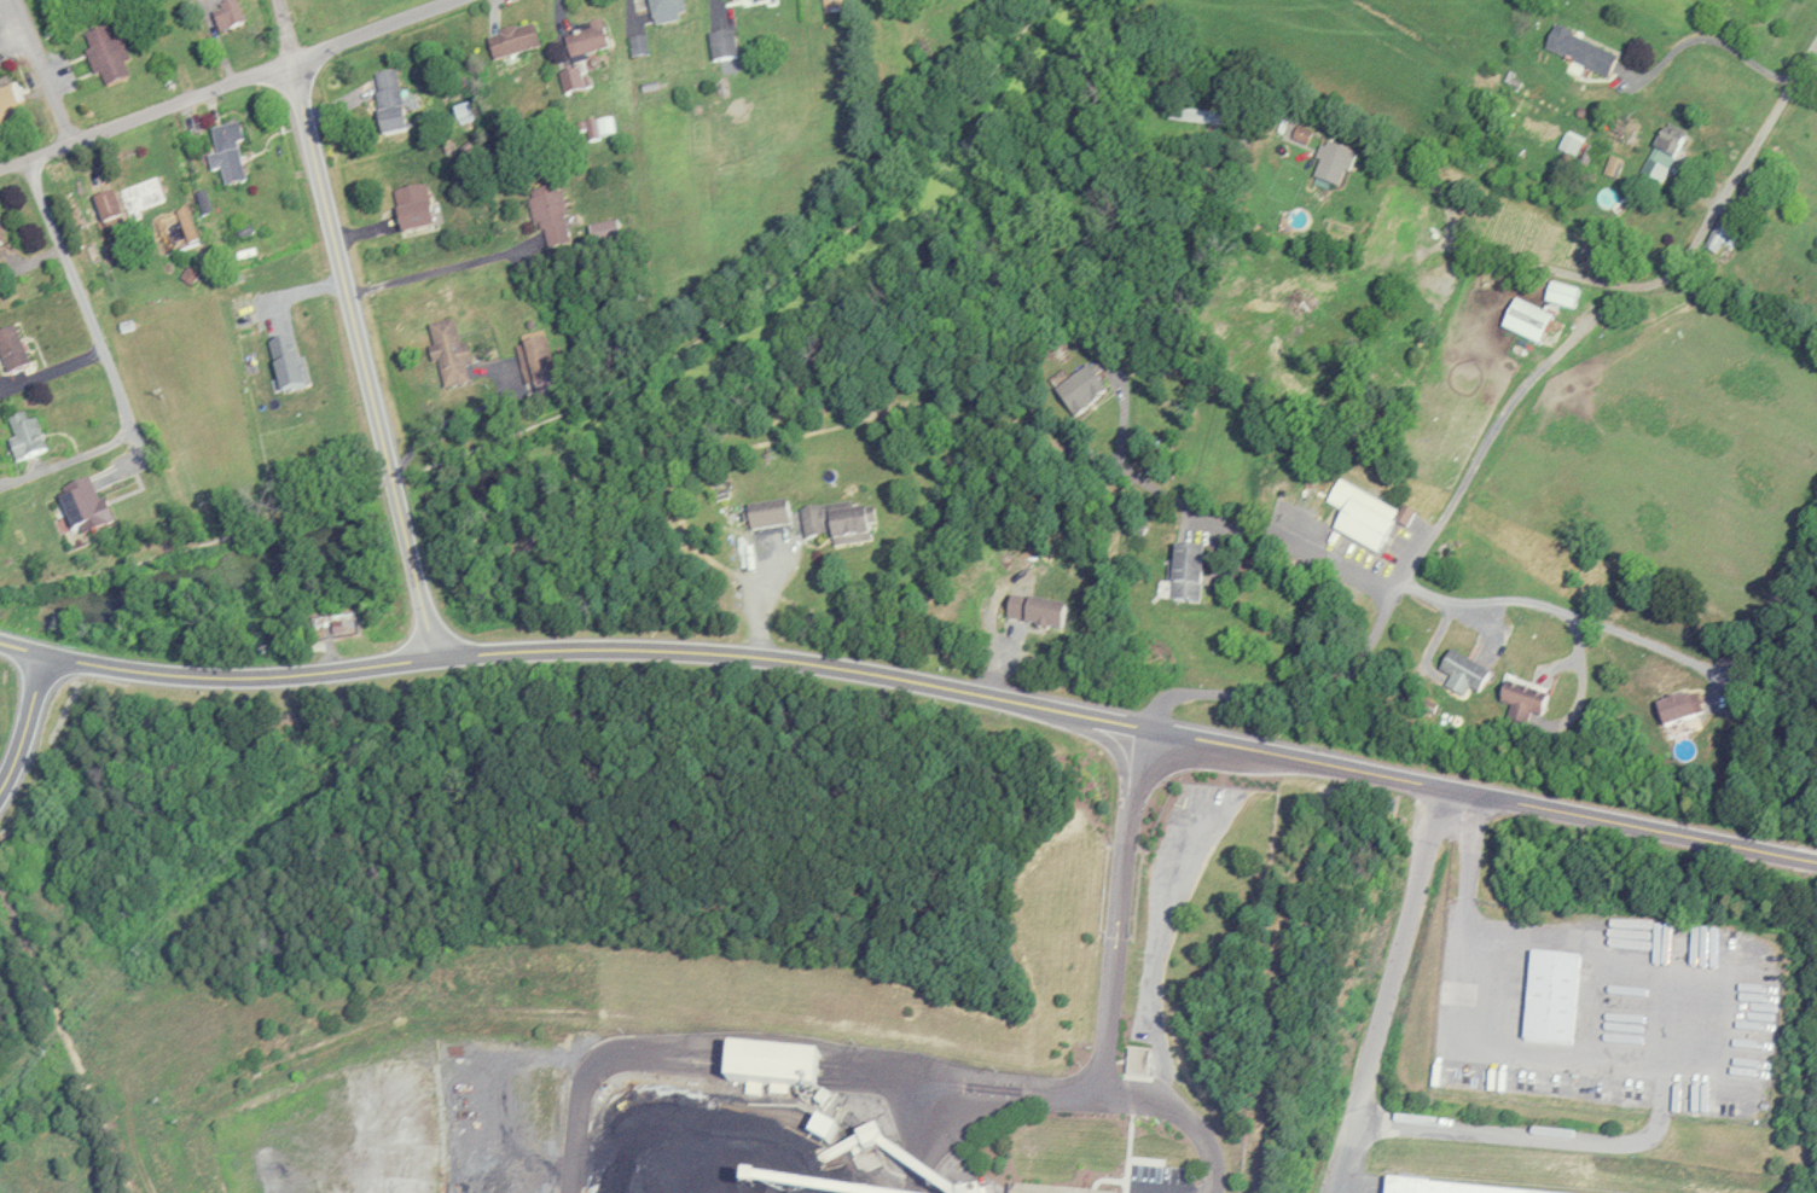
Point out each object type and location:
building: (725, 0)
building: (663, 10)
building: (224, 14)
building: (582, 37)
building: (509, 40)
building: (637, 45)
building: (724, 45)
building: (1577, 47)
building: (105, 53)
road: (43, 71)
building: (571, 82)
road: (226, 85)
building: (385, 101)
building: (6, 105)
building: (596, 127)
building: (1296, 130)
road: (1757, 144)
building: (1659, 145)
building: (1585, 149)
building: (224, 152)
building: (1328, 157)
building: (1609, 162)
building: (1747, 193)
building: (140, 194)
building: (104, 205)
building: (408, 208)
building: (545, 210)
building: (1407, 222)
building: (1720, 237)
road: (1579, 275)
building: (1558, 292)
road: (80, 297)
building: (1526, 319)
building: (1598, 325)
road: (355, 330)
building: (8, 348)
building: (446, 349)
building: (1078, 390)
road: (588, 403)
road: (1504, 419)
building: (19, 436)
road: (1134, 472)
building: (79, 506)
building: (1359, 516)
building: (1404, 516)
building: (835, 523)
building: (1184, 574)
road: (1372, 575)
road: (1227, 577)
building: (1032, 611)
road: (1486, 615)
road: (1635, 638)
road: (1575, 645)
building: (1459, 670)
road: (913, 682)
road: (1328, 688)
building: (1522, 694)
road: (1579, 698)
building: (1671, 709)
road: (27, 723)
building: (1680, 723)
road: (1388, 989)
road: (1110, 999)
building: (1552, 999)
road: (1667, 1019)
road: (693, 1042)
building: (728, 1058)
building: (1133, 1063)
power plant: (679, 1083)
road: (956, 1087)
building: (1429, 1188)
building: (1035, 1191)
road: (1146, 1192)

